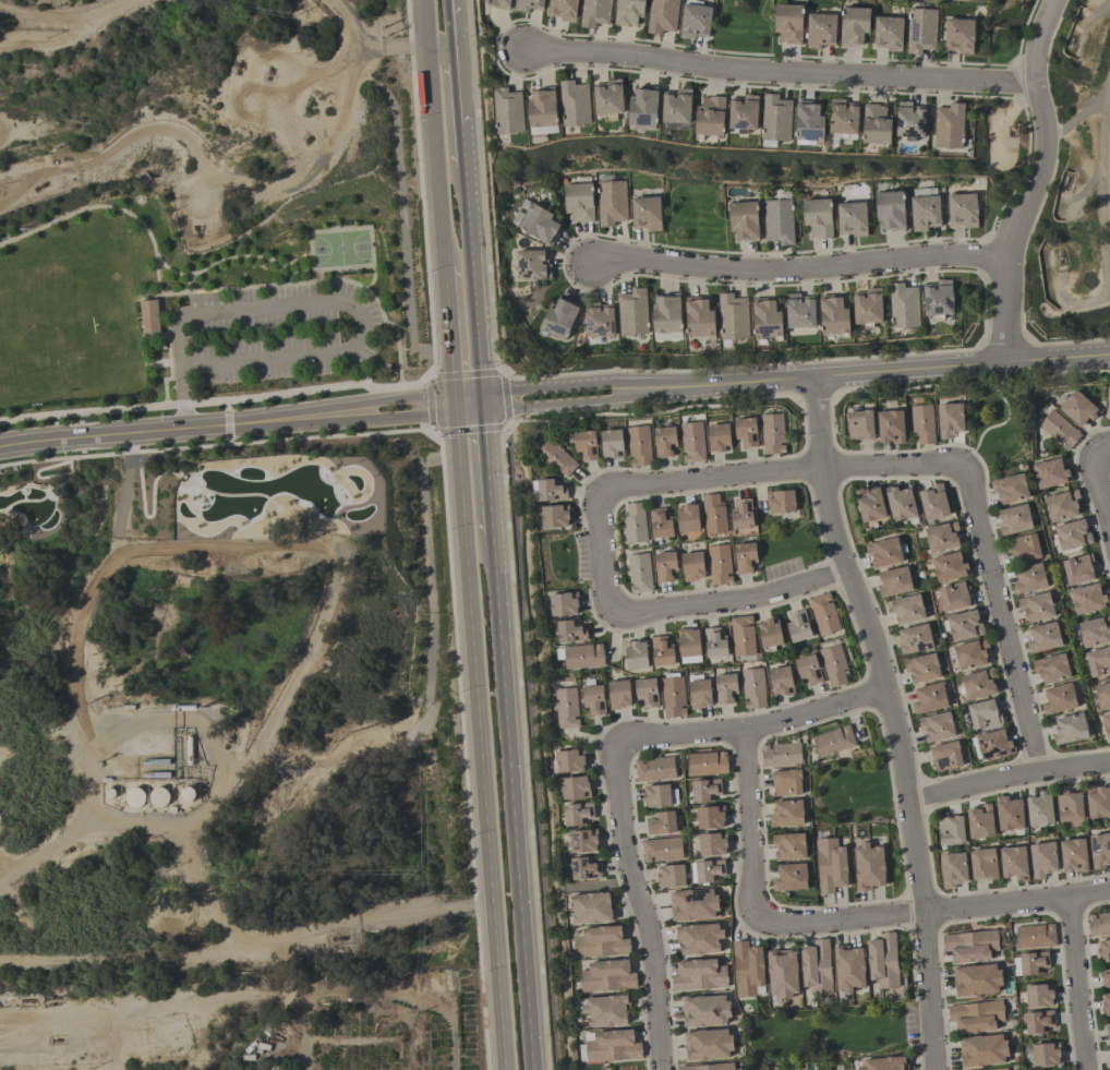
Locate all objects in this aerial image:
building: (498, 4)
building: (529, 4)
building: (563, 10)
building: (595, 13)
building: (629, 13)
road: (1096, 13)
building: (662, 16)
building: (695, 22)
building: (788, 24)
park: (741, 26)
building: (854, 26)
building: (921, 29)
building: (820, 31)
road: (1023, 32)
building: (889, 34)
building: (960, 36)
petroleum well: (1074, 37)
road: (494, 50)
petroleum well: (239, 70)
road: (431, 70)
road: (781, 72)
petroleum well: (268, 73)
road: (1017, 82)
road: (460, 94)
building: (610, 98)
building: (575, 104)
road: (1088, 107)
building: (677, 108)
building: (643, 109)
building: (542, 110)
road: (449, 112)
building: (508, 112)
building: (744, 115)
building: (710, 118)
building: (775, 119)
building: (843, 119)
building: (909, 122)
building: (809, 124)
building: (877, 127)
building: (950, 128)
road: (1023, 172)
petroleum well: (1066, 179)
road: (1033, 181)
petroleum well: (41, 184)
road: (1083, 192)
building: (579, 203)
building: (612, 203)
road: (441, 204)
building: (891, 212)
building: (963, 212)
building: (925, 213)
building: (647, 214)
park: (693, 214)
building: (818, 219)
building: (853, 220)
building: (744, 221)
building: (777, 223)
building: (540, 226)
road: (1102, 229)
road: (150, 237)
park: (341, 249)
road: (985, 255)
road: (238, 257)
petroleum well: (1060, 259)
road: (563, 263)
building: (532, 266)
road: (796, 267)
road: (171, 273)
road: (321, 274)
road: (372, 277)
road: (317, 280)
road: (474, 297)
park: (213, 300)
building: (940, 300)
road: (322, 301)
building: (904, 308)
building: (868, 309)
road: (984, 311)
building: (634, 313)
building: (799, 313)
building: (667, 316)
building: (148, 317)
building: (834, 317)
building: (734, 318)
building: (700, 320)
building: (558, 321)
building: (767, 321)
building: (598, 322)
road: (448, 338)
road: (883, 371)
road: (463, 375)
road: (564, 387)
road: (216, 400)
road: (565, 401)
traffic signals: (471, 404)
building: (1108, 404)
building: (1078, 408)
building: (949, 420)
road: (234, 423)
building: (922, 423)
building: (859, 424)
park: (999, 424)
building: (890, 426)
road: (472, 430)
building: (1058, 430)
building: (745, 431)
building: (772, 433)
building: (717, 437)
building: (664, 441)
building: (691, 442)
road: (216, 444)
building: (611, 444)
building: (584, 445)
building: (638, 446)
road: (1102, 449)
road: (130, 450)
building: (556, 457)
parking lot: (137, 460)
road: (177, 468)
road: (783, 473)
building: (1049, 473)
building: (1010, 489)
building: (550, 490)
road: (1100, 491)
building: (780, 501)
building: (932, 503)
building: (869, 504)
building: (900, 504)
building: (1062, 505)
road: (119, 515)
road: (150, 515)
building: (713, 515)
building: (741, 515)
building: (554, 516)
building: (687, 518)
building: (1013, 519)
building: (634, 522)
building: (660, 524)
building: (1072, 534)
building: (941, 537)
park: (792, 540)
road: (236, 545)
building: (1024, 548)
building: (883, 553)
road: (604, 555)
building: (744, 557)
building: (719, 565)
building: (691, 566)
building: (664, 567)
building: (949, 567)
building: (1077, 569)
building: (639, 573)
building: (1028, 579)
building: (894, 581)
building: (954, 597)
building: (1087, 599)
road: (736, 601)
building: (563, 604)
building: (1036, 608)
building: (906, 609)
building: (823, 614)
road: (1002, 618)
building: (964, 625)
building: (797, 626)
building: (570, 632)
building: (769, 633)
building: (1094, 633)
building: (741, 636)
building: (1043, 637)
building: (914, 639)
building: (688, 641)
building: (714, 642)
building: (661, 651)
building: (636, 654)
building: (970, 654)
building: (582, 656)
building: (689, 659)
building: (1098, 662)
building: (833, 665)
building: (921, 669)
building: (1051, 669)
building: (808, 670)
road: (427, 673)
building: (780, 681)
building: (977, 684)
building: (725, 688)
building: (752, 688)
building: (647, 692)
building: (618, 694)
building: (699, 694)
building: (1102, 696)
building: (672, 697)
building: (929, 698)
building: (1058, 699)
building: (593, 700)
building: (566, 708)
building: (984, 713)
road: (167, 718)
road: (892, 720)
road: (752, 724)
building: (1106, 724)
building: (937, 726)
building: (1069, 729)
road: (44, 737)
building: (833, 742)
building: (993, 744)
building: (780, 755)
building: (945, 756)
building: (568, 760)
road: (497, 764)
building: (707, 764)
building: (653, 769)
road: (1008, 778)
building: (786, 782)
building: (575, 788)
building: (705, 790)
park: (850, 792)
building: (656, 795)
building: (159, 796)
building: (134, 797)
building: (1098, 803)
building: (1069, 807)
building: (1039, 809)
building: (786, 813)
building: (577, 814)
building: (1009, 814)
building: (710, 817)
road: (749, 819)
building: (979, 821)
building: (661, 823)
building: (950, 830)
building: (582, 841)
building: (712, 844)
building: (788, 846)
building: (661, 850)
building: (1099, 851)
building: (1073, 855)
building: (1042, 858)
building: (1013, 863)
building: (982, 864)
building: (830, 865)
road: (4, 866)
building: (868, 866)
building: (586, 868)
building: (953, 869)
building: (669, 876)
building: (791, 877)
building: (692, 904)
building: (590, 907)
road: (643, 910)
road: (934, 911)
road: (221, 924)
building: (1098, 924)
building: (1035, 936)
building: (698, 939)
building: (599, 941)
building: (969, 946)
building: (1103, 950)
road: (121, 959)
building: (882, 961)
building: (1031, 962)
building: (816, 966)
building: (747, 969)
building: (848, 969)
building: (782, 974)
building: (699, 975)
building: (607, 976)
building: (976, 979)
building: (1105, 981)
road: (1077, 983)
building: (1038, 995)
building: (1106, 1005)
building: (605, 1010)
building: (704, 1011)
building: (975, 1017)
building: (1038, 1021)
park: (828, 1032)
building: (1108, 1034)
petroleum well: (56, 1041)
building: (708, 1044)
building: (611, 1046)
building: (982, 1050)
building: (1045, 1054)
building: (1108, 1057)
building: (884, 1063)
building: (708, 1067)
building: (1001, 1069)
building: (1057, 1069)

